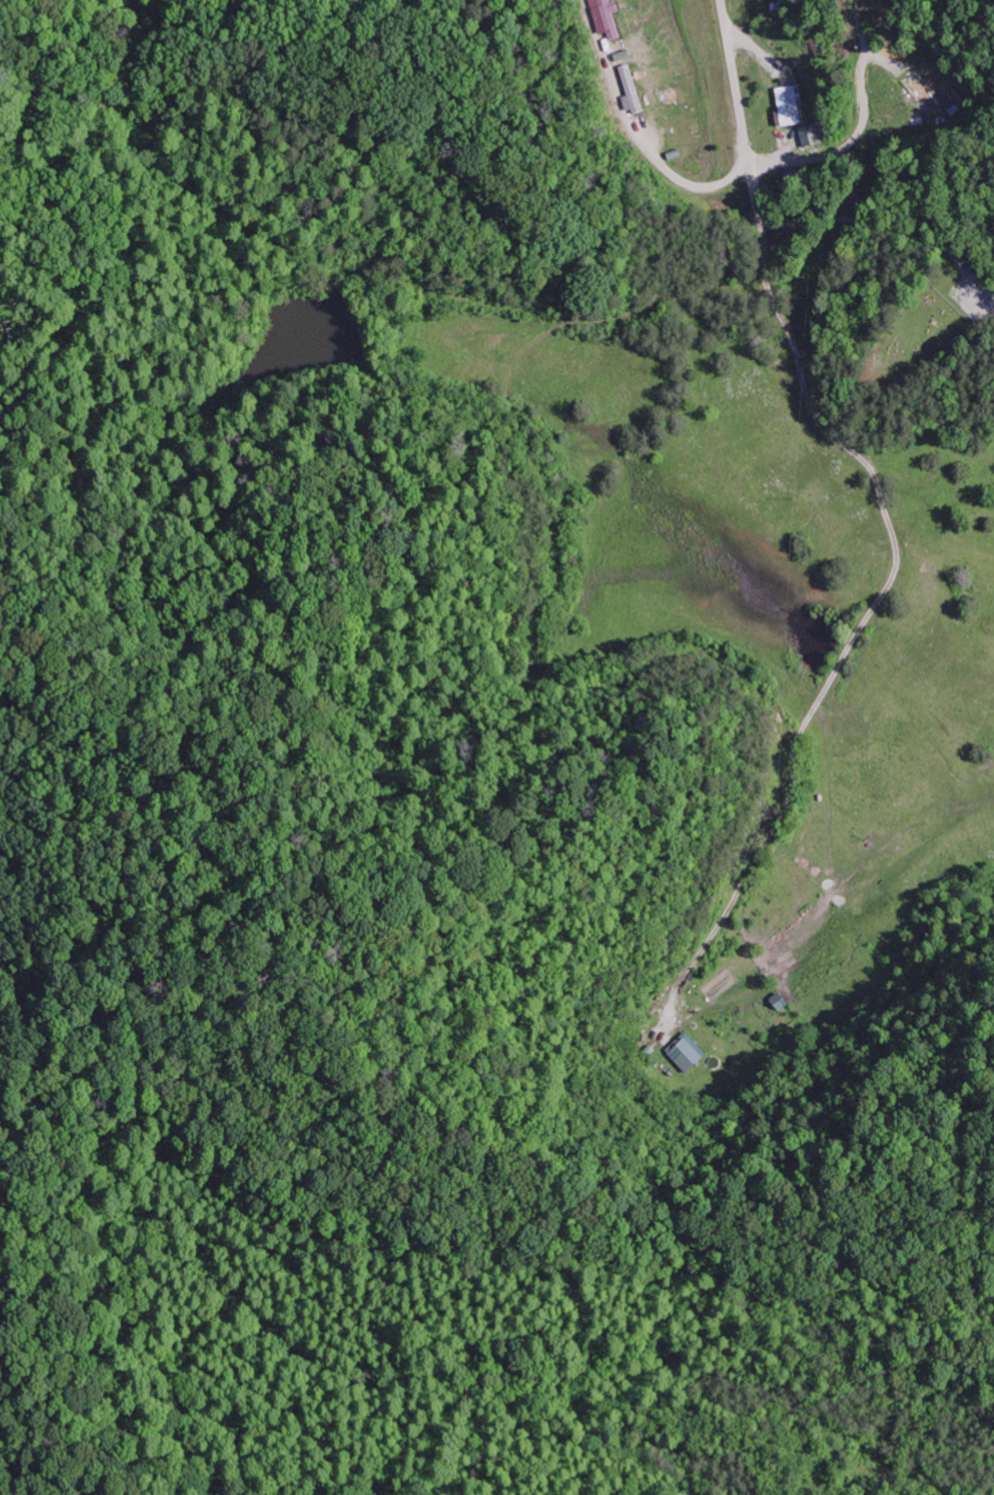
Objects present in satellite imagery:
building: (611, 19)
building: (633, 90)
building: (928, 98)
building: (789, 105)
building: (809, 134)
road: (776, 225)
park: (908, 339)
building: (687, 1052)

